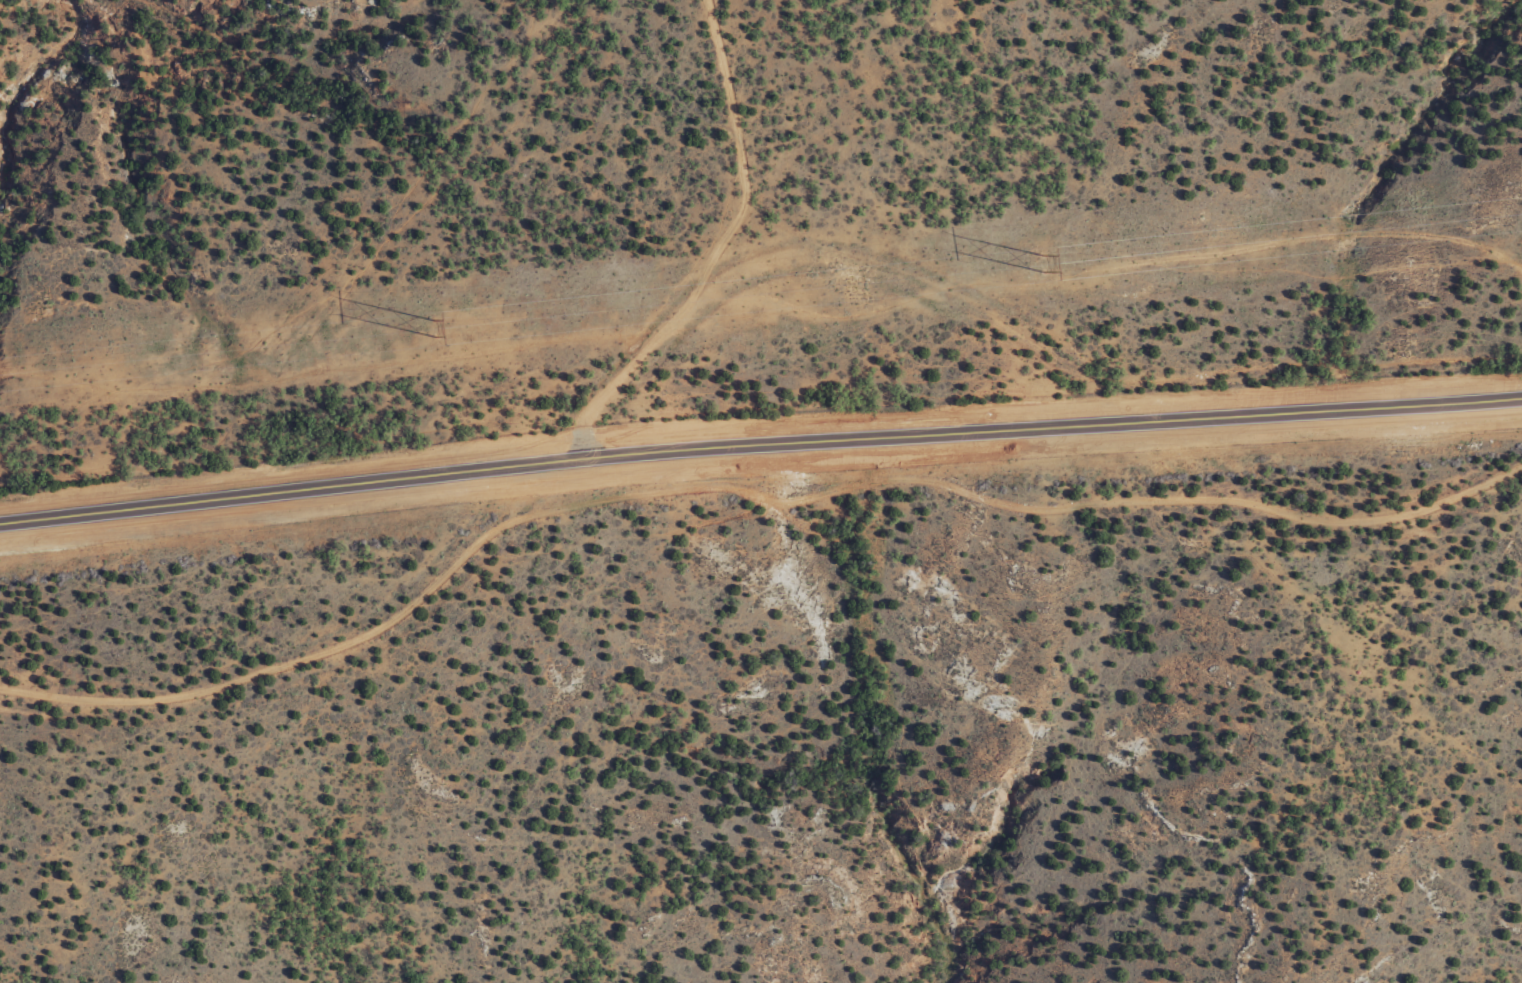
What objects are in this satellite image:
power tower: (1041, 262)
road: (1032, 305)
power tower: (435, 328)
road: (759, 447)

